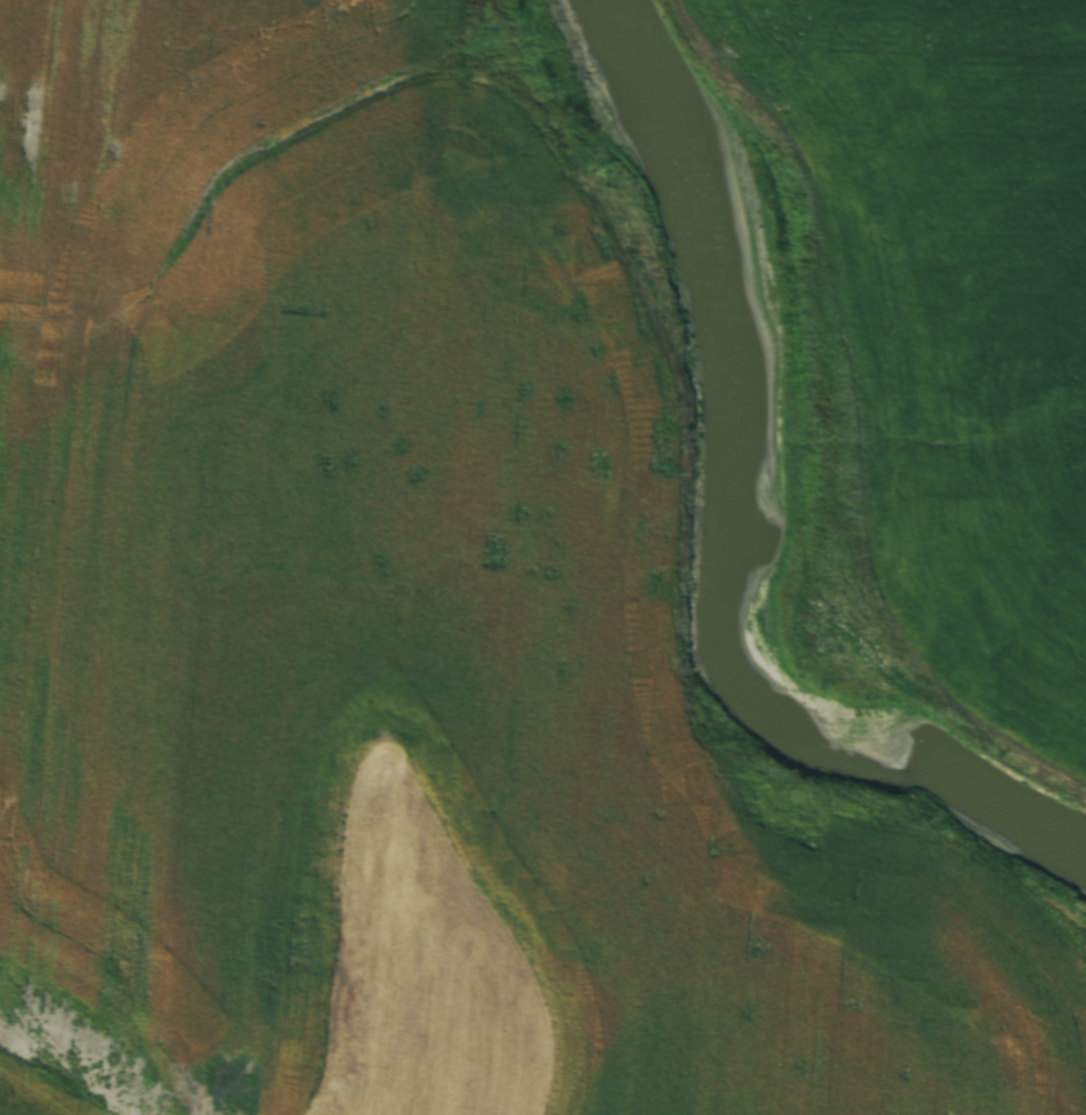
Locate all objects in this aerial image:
river: (748, 524)

